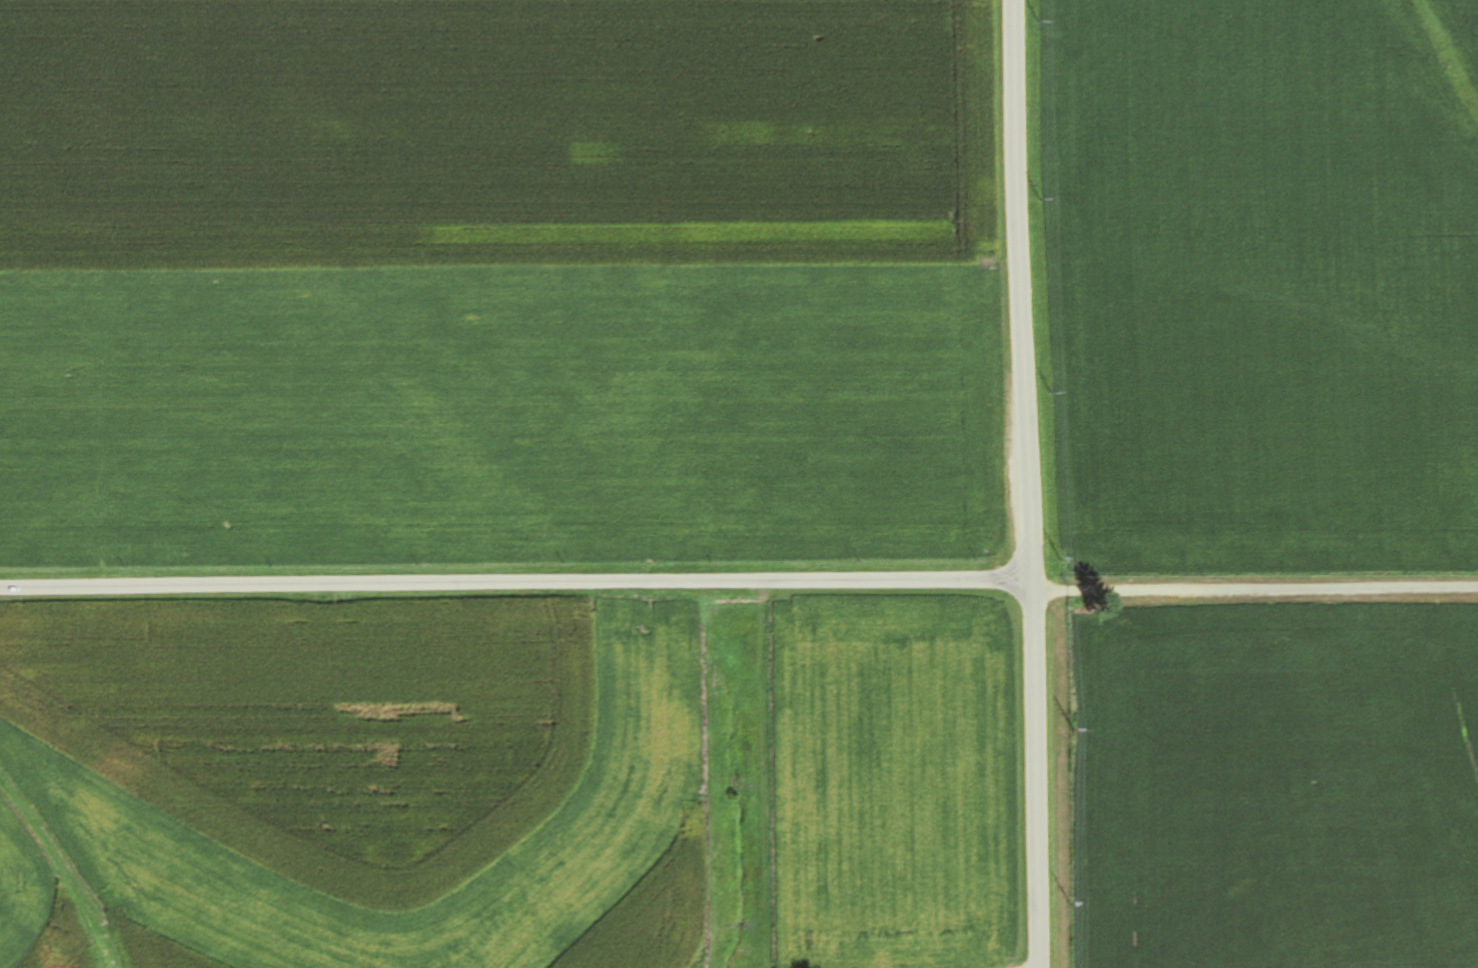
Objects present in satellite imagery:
road: (1028, 483)
road: (516, 584)
road: (1255, 590)

